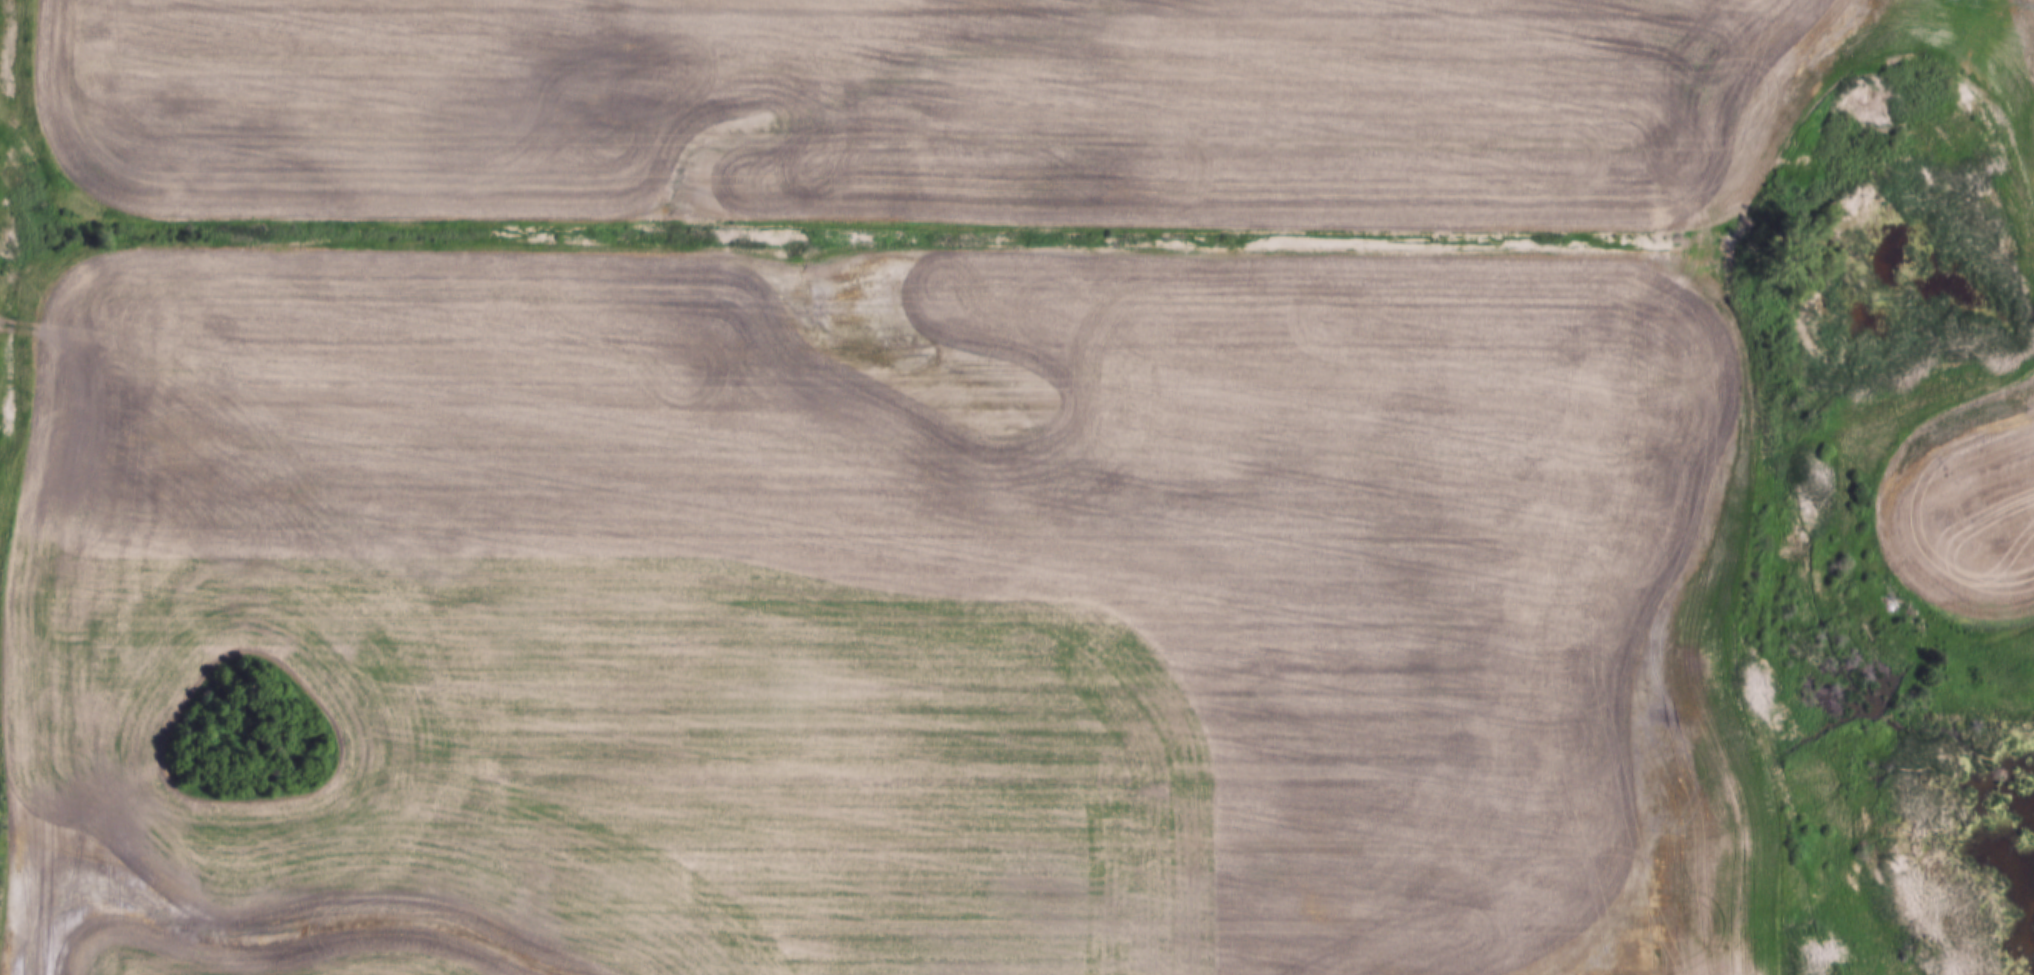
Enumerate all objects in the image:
road: (8, 277)

